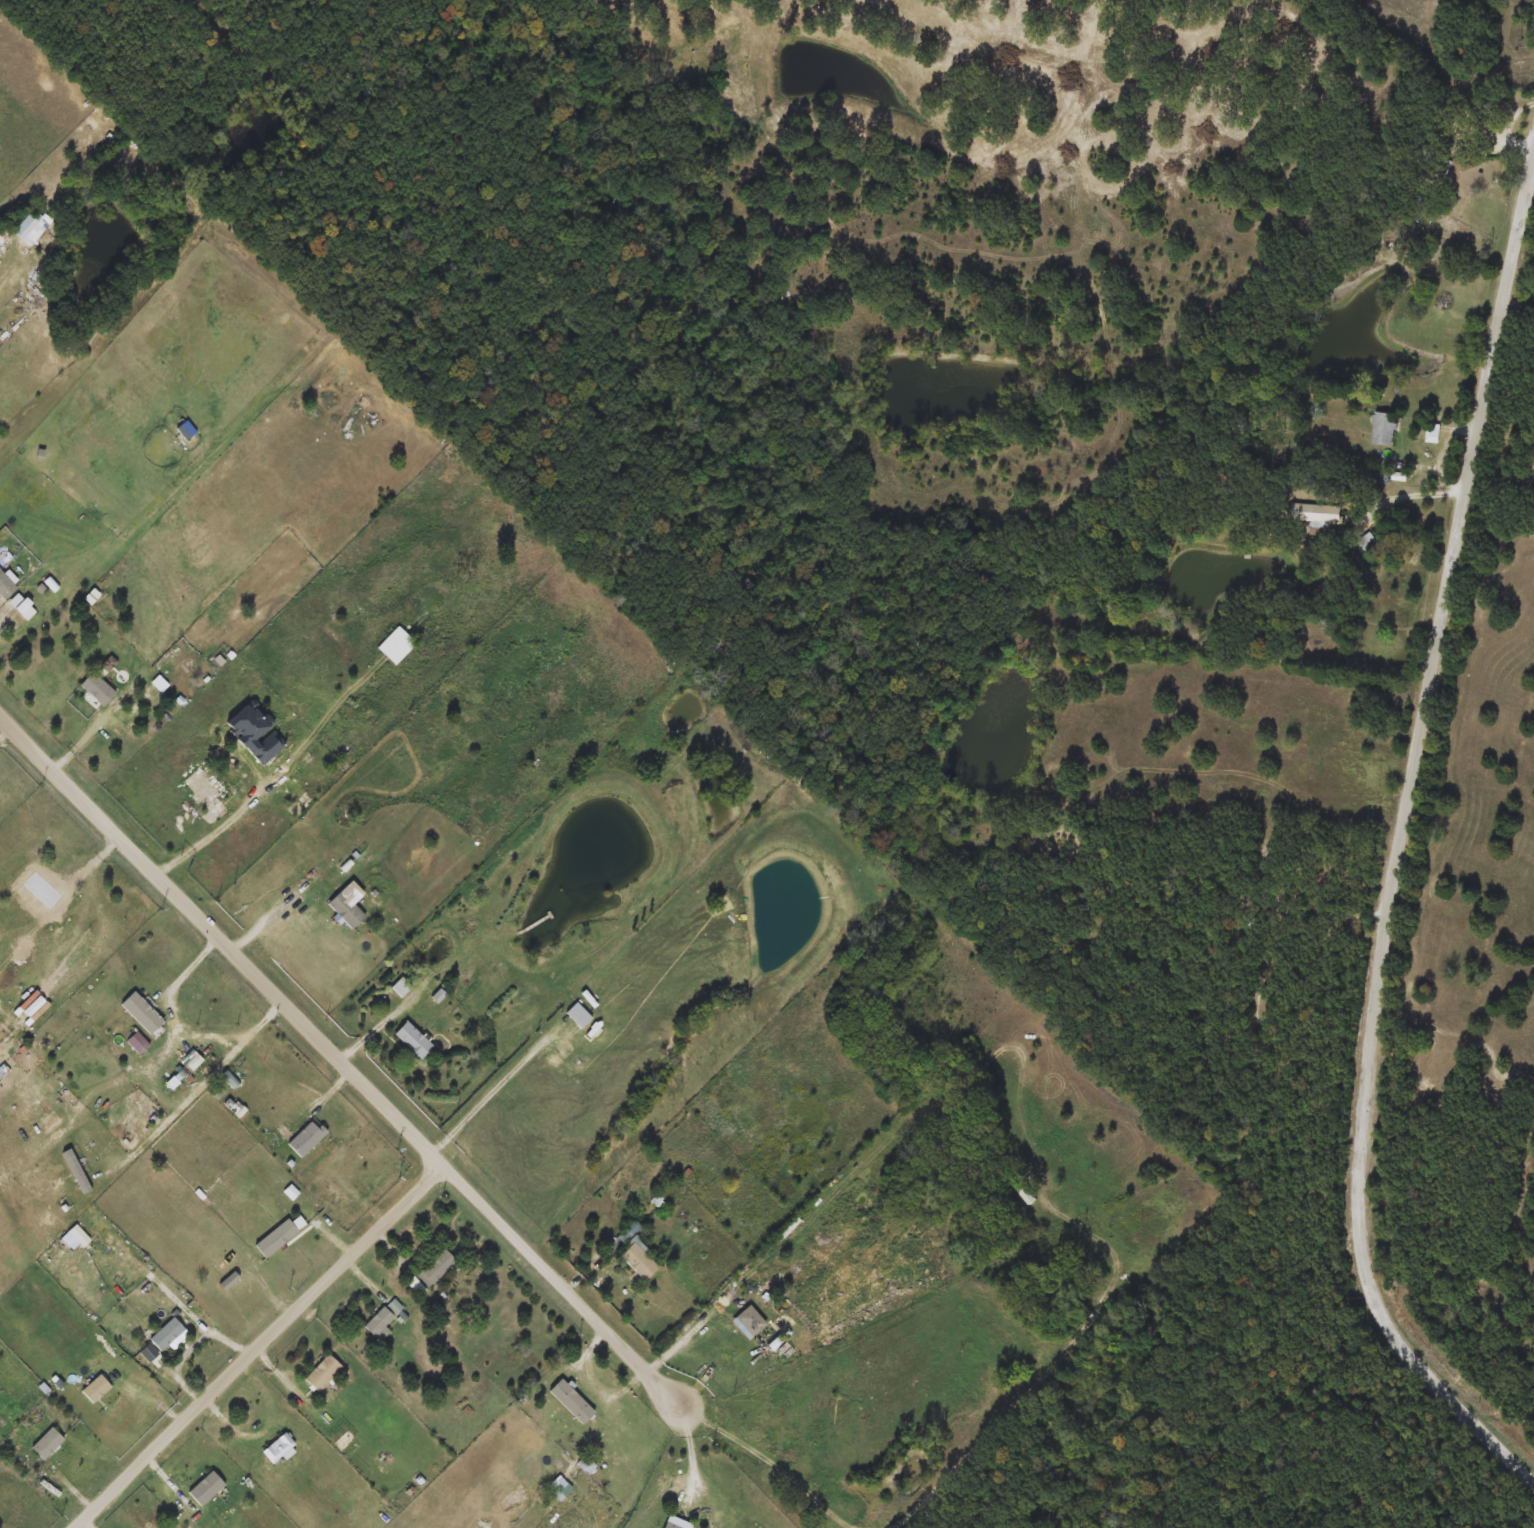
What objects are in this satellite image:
building: (622, 0)
building: (1463, 178)
building: (25, 231)
road: (20, 307)
building: (1383, 430)
building: (184, 431)
building: (1432, 434)
road: (1414, 495)
building: (1314, 513)
building: (5, 587)
building: (21, 608)
building: (338, 642)
building: (396, 647)
building: (97, 690)
road: (150, 713)
road: (272, 776)
building: (200, 789)
building: (313, 790)
road: (1400, 847)
building: (1265, 864)
road: (1351, 914)
road: (272, 917)
road: (171, 1011)
building: (143, 1013)
building: (577, 1016)
road: (261, 1027)
building: (412, 1041)
road: (494, 1091)
road: (408, 1126)
building: (1143, 1235)
building: (636, 1254)
building: (436, 1269)
building: (750, 1322)
building: (380, 1325)
road: (687, 1334)
building: (167, 1335)
road: (259, 1345)
building: (148, 1352)
road: (310, 1355)
building: (323, 1373)
building: (571, 1401)
building: (46, 1444)
building: (728, 1522)

